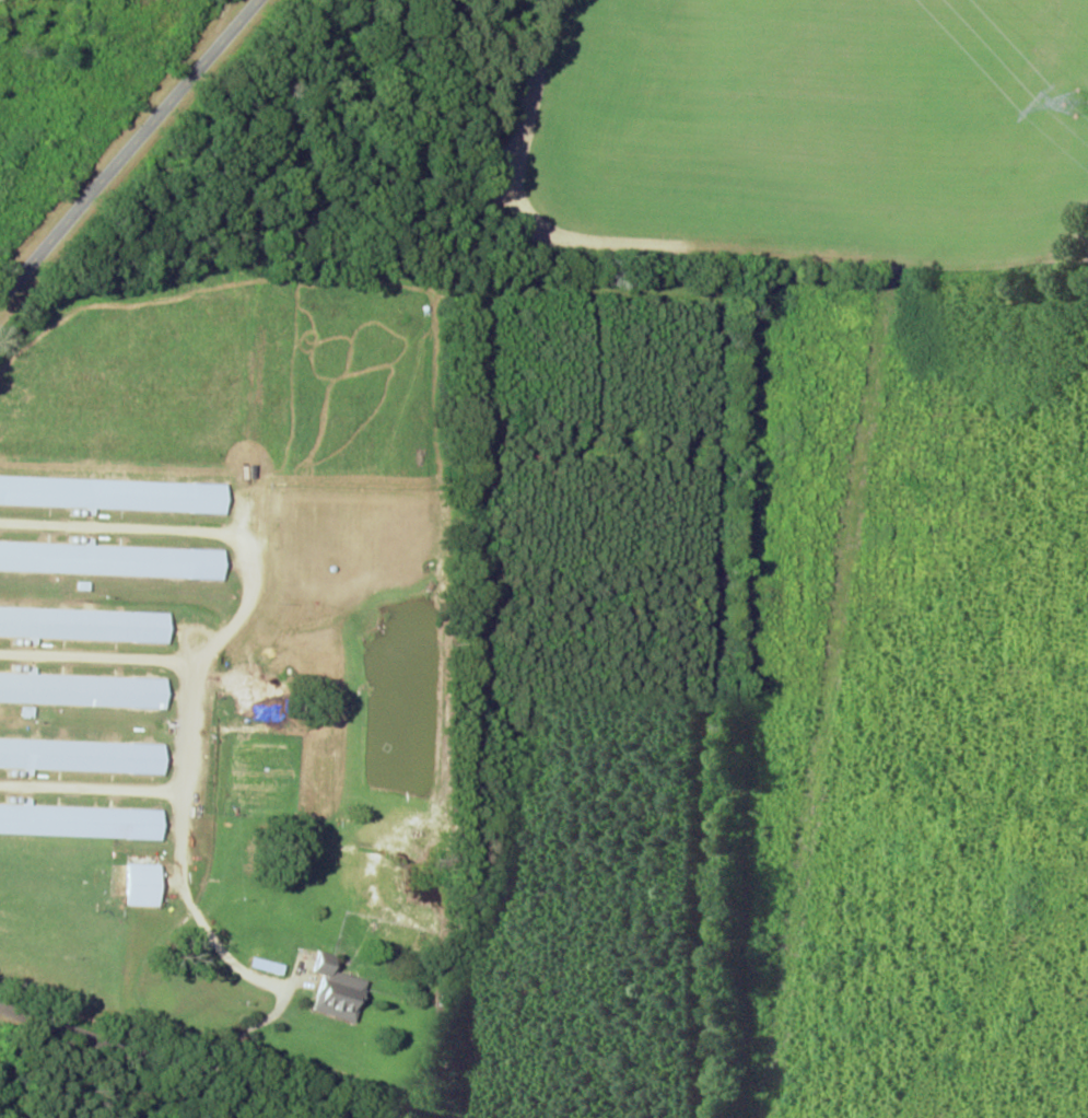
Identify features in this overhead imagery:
power tower: (1071, 104)
road: (169, 189)
building: (114, 493)
building: (113, 559)
building: (85, 624)
building: (84, 689)
building: (83, 755)
building: (82, 820)
building: (145, 884)
building: (339, 990)
road: (69, 1096)

